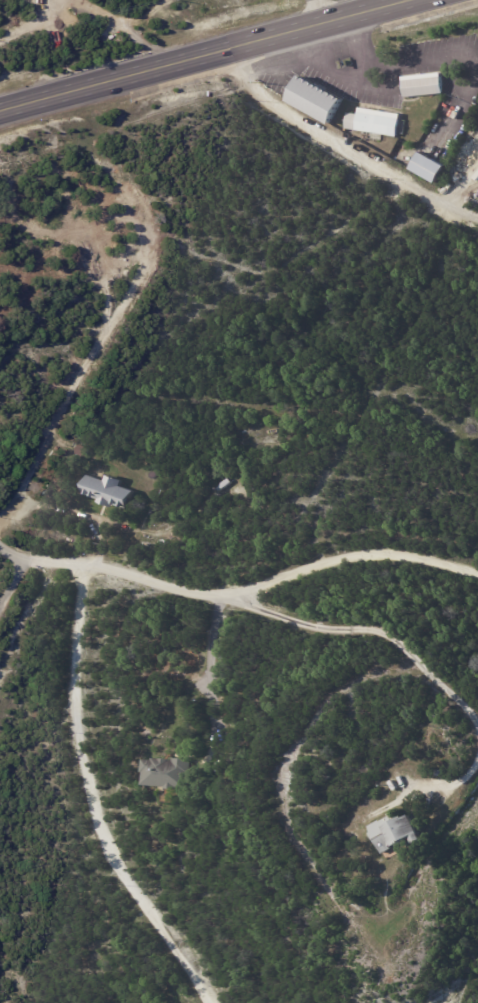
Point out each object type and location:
road: (319, 11)
road: (29, 27)
road: (130, 28)
road: (204, 53)
road: (437, 59)
road: (327, 68)
building: (418, 83)
road: (379, 88)
building: (319, 99)
building: (376, 121)
road: (341, 145)
building: (434, 168)
building: (221, 486)
building: (109, 493)
road: (12, 580)
road: (238, 594)
road: (379, 633)
road: (210, 663)
building: (170, 772)
road: (463, 773)
road: (90, 799)
building: (401, 833)

